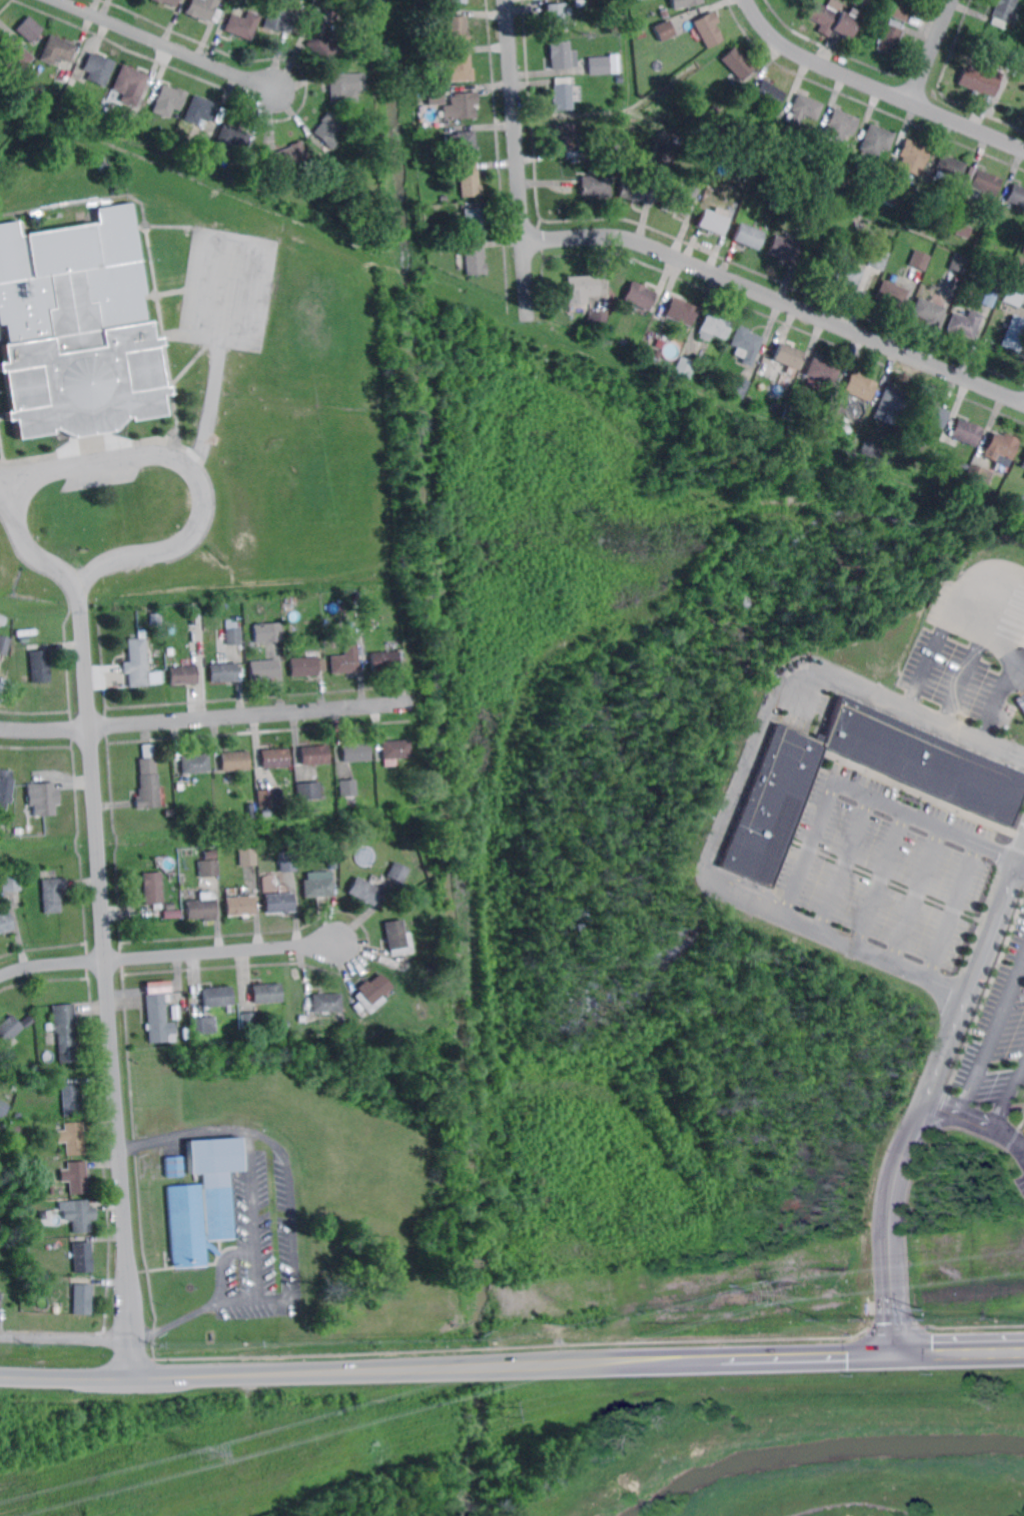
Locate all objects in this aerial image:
building: (455, 1)
building: (169, 2)
building: (859, 3)
building: (683, 4)
building: (641, 6)
building: (203, 8)
building: (333, 8)
building: (902, 12)
building: (1003, 12)
building: (279, 15)
building: (556, 16)
building: (834, 19)
building: (243, 24)
building: (30, 29)
building: (457, 30)
building: (708, 30)
building: (664, 31)
building: (640, 34)
building: (890, 35)
building: (325, 44)
road: (167, 45)
building: (58, 50)
road: (933, 51)
building: (560, 54)
building: (14, 55)
building: (435, 56)
building: (614, 60)
building: (738, 63)
building: (599, 65)
building: (458, 67)
building: (99, 68)
building: (620, 78)
building: (982, 79)
building: (129, 85)
road: (877, 86)
building: (345, 87)
building: (770, 94)
building: (436, 96)
building: (563, 96)
building: (170, 100)
building: (461, 105)
building: (805, 109)
building: (202, 110)
building: (785, 114)
building: (841, 125)
building: (123, 128)
building: (328, 129)
building: (722, 131)
building: (567, 137)
building: (230, 138)
building: (877, 140)
building: (200, 145)
building: (463, 146)
building: (617, 147)
building: (665, 154)
building: (811, 156)
building: (914, 156)
building: (285, 158)
road: (517, 159)
building: (424, 160)
building: (605, 162)
building: (103, 167)
building: (950, 167)
building: (332, 173)
building: (235, 180)
building: (468, 181)
building: (988, 181)
building: (597, 185)
building: (634, 189)
building: (963, 190)
building: (860, 194)
building: (1017, 194)
building: (888, 195)
building: (681, 201)
building: (713, 221)
building: (809, 222)
building: (473, 223)
building: (962, 229)
building: (748, 237)
building: (458, 246)
building: (783, 249)
building: (878, 259)
building: (921, 259)
building: (476, 261)
building: (962, 263)
building: (845, 276)
building: (996, 283)
building: (581, 289)
building: (893, 294)
building: (1015, 295)
building: (639, 296)
road: (777, 299)
building: (930, 311)
building: (682, 312)
building: (598, 320)
building: (967, 324)
building: (715, 325)
building: (76, 327)
building: (1015, 334)
building: (748, 345)
building: (657, 355)
building: (787, 357)
building: (686, 367)
building: (823, 371)
building: (762, 372)
building: (740, 386)
building: (861, 387)
building: (892, 406)
building: (835, 413)
building: (790, 415)
building: (933, 415)
building: (968, 432)
building: (1003, 447)
building: (878, 450)
road: (149, 455)
building: (1023, 465)
building: (980, 475)
parking lot: (99, 478)
road: (7, 487)
building: (1023, 511)
road: (970, 612)
building: (154, 620)
building: (367, 625)
building: (268, 633)
building: (229, 635)
building: (4, 644)
building: (345, 660)
road: (937, 660)
building: (384, 661)
building: (39, 666)
building: (138, 666)
building: (303, 666)
building: (263, 669)
building: (223, 672)
building: (183, 674)
parking lot: (967, 678)
road: (973, 679)
building: (26, 680)
road: (1009, 701)
road: (206, 717)
building: (355, 752)
building: (392, 752)
building: (314, 754)
building: (271, 759)
building: (235, 761)
building: (194, 765)
building: (5, 786)
building: (147, 786)
building: (178, 787)
building: (346, 788)
building: (220, 789)
road: (862, 789)
building: (308, 790)
building: (976, 790)
road: (735, 792)
building: (43, 799)
building: (268, 799)
building: (350, 804)
building: (250, 813)
building: (167, 814)
building: (264, 814)
building: (207, 855)
building: (246, 857)
building: (286, 862)
road: (845, 862)
building: (330, 865)
building: (208, 870)
building: (395, 874)
road: (883, 879)
building: (30, 880)
building: (11, 882)
building: (153, 888)
building: (315, 889)
building: (361, 891)
building: (52, 894)
road: (919, 894)
building: (278, 903)
building: (170, 906)
building: (239, 907)
building: (201, 908)
road: (956, 910)
building: (170, 913)
building: (146, 914)
building: (5, 923)
building: (394, 939)
road: (165, 954)
road: (110, 992)
building: (265, 993)
building: (369, 993)
building: (216, 996)
building: (324, 1004)
building: (301, 1018)
building: (158, 1019)
building: (249, 1022)
building: (29, 1023)
building: (203, 1025)
building: (10, 1029)
building: (66, 1033)
road: (989, 1035)
parking lot: (998, 1040)
road: (1008, 1092)
building: (73, 1099)
road: (923, 1099)
building: (3, 1108)
road: (975, 1122)
building: (17, 1129)
road: (181, 1130)
building: (72, 1138)
road: (919, 1144)
building: (172, 1167)
building: (75, 1177)
parking lot: (1020, 1182)
building: (50, 1189)
building: (203, 1199)
road: (250, 1212)
building: (78, 1216)
building: (82, 1257)
road: (219, 1261)
road: (295, 1285)
power tower: (799, 1292)
building: (0, 1297)
building: (82, 1299)
power tower: (925, 1313)
road: (66, 1336)
road: (512, 1369)
power tower: (505, 1410)
power tower: (203, 1451)

